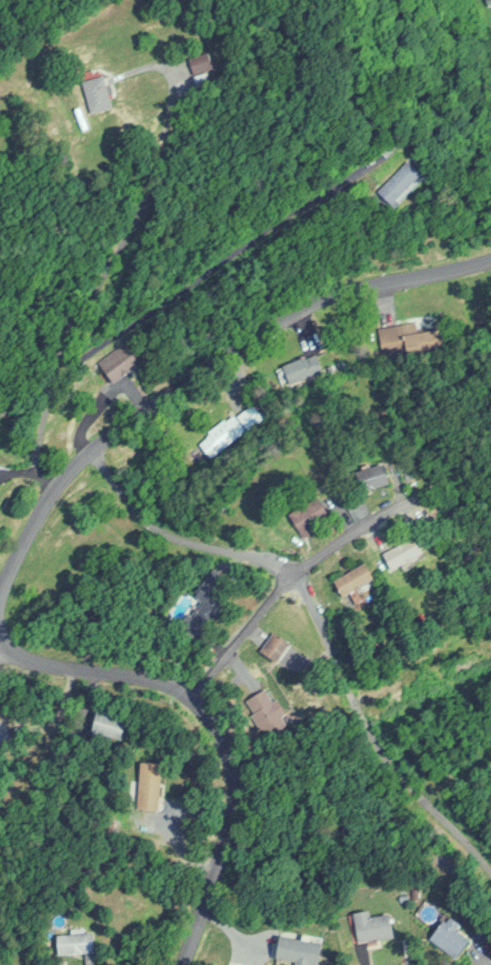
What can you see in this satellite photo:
building: (203, 62)
building: (207, 83)
building: (99, 93)
building: (404, 182)
road: (97, 284)
building: (123, 361)
road: (204, 367)
building: (299, 368)
building: (213, 437)
building: (375, 477)
building: (312, 515)
road: (346, 535)
building: (406, 553)
building: (357, 580)
road: (320, 619)
building: (263, 707)
building: (107, 723)
road: (216, 729)
building: (150, 784)
building: (373, 925)
building: (452, 937)
building: (76, 943)
building: (300, 949)

